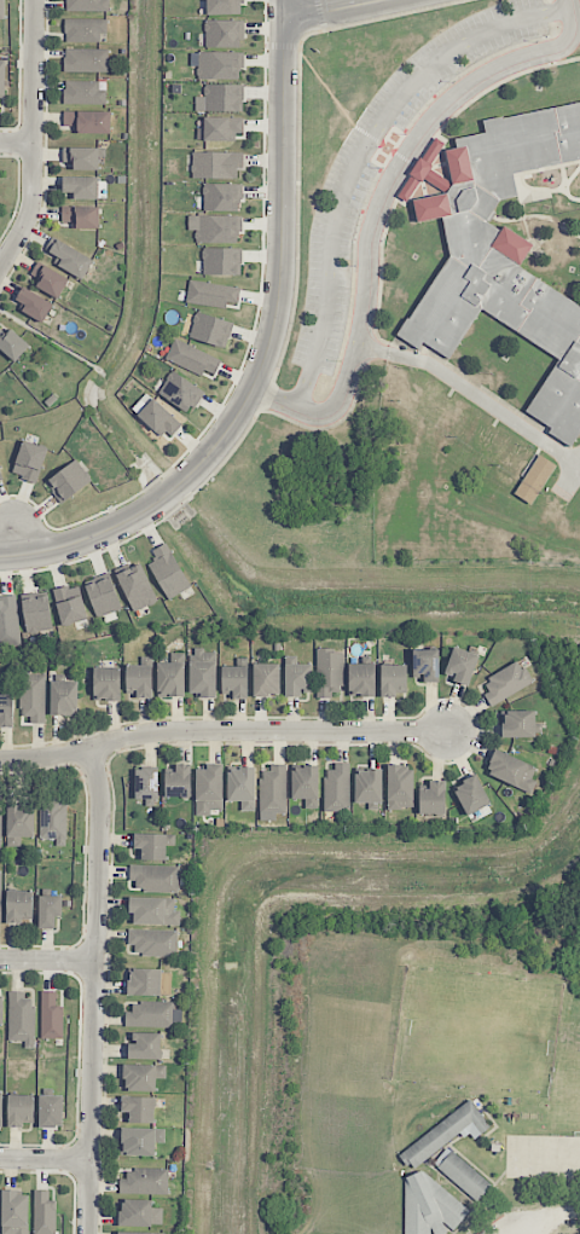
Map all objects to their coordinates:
building: (86, 5)
building: (224, 7)
road: (326, 8)
building: (1, 10)
building: (83, 30)
building: (224, 33)
building: (86, 60)
building: (219, 65)
building: (2, 79)
building: (83, 92)
building: (220, 98)
building: (88, 121)
building: (221, 128)
road: (34, 138)
road: (17, 143)
road: (361, 151)
building: (81, 157)
building: (216, 164)
building: (424, 172)
building: (81, 186)
building: (221, 197)
road: (382, 203)
building: (80, 215)
building: (215, 228)
building: (512, 249)
building: (69, 257)
building: (221, 261)
building: (48, 279)
building: (211, 294)
building: (34, 305)
building: (210, 330)
building: (11, 342)
road: (268, 346)
building: (191, 358)
road: (459, 387)
building: (180, 392)
building: (157, 416)
building: (29, 460)
building: (0, 476)
building: (534, 479)
building: (68, 481)
road: (14, 540)
road: (8, 557)
building: (168, 572)
building: (137, 586)
building: (103, 596)
building: (70, 604)
building: (36, 614)
building: (8, 620)
building: (425, 665)
building: (462, 665)
building: (203, 672)
building: (329, 672)
building: (172, 677)
building: (297, 678)
building: (266, 679)
building: (361, 679)
building: (394, 679)
building: (139, 680)
building: (234, 682)
building: (106, 683)
building: (505, 683)
building: (33, 697)
building: (64, 697)
building: (6, 709)
building: (518, 723)
road: (222, 731)
building: (511, 771)
building: (179, 781)
building: (146, 783)
building: (242, 786)
building: (306, 786)
building: (367, 786)
building: (400, 787)
building: (336, 788)
building: (209, 789)
building: (273, 789)
building: (471, 795)
building: (433, 798)
building: (0, 818)
building: (53, 821)
building: (19, 822)
building: (152, 846)
building: (155, 877)
building: (0, 900)
building: (18, 905)
building: (48, 910)
building: (153, 911)
building: (153, 942)
road: (48, 963)
building: (145, 981)
road: (95, 992)
building: (1, 1009)
building: (155, 1014)
building: (51, 1016)
building: (21, 1018)
building: (145, 1045)
building: (143, 1076)
building: (0, 1108)
building: (21, 1110)
building: (138, 1110)
building: (51, 1111)
building: (445, 1134)
building: (140, 1141)
road: (46, 1161)
building: (463, 1174)
building: (145, 1181)
building: (431, 1209)
building: (14, 1212)
building: (43, 1213)
building: (140, 1213)
road: (520, 1232)
building: (139, 1233)

